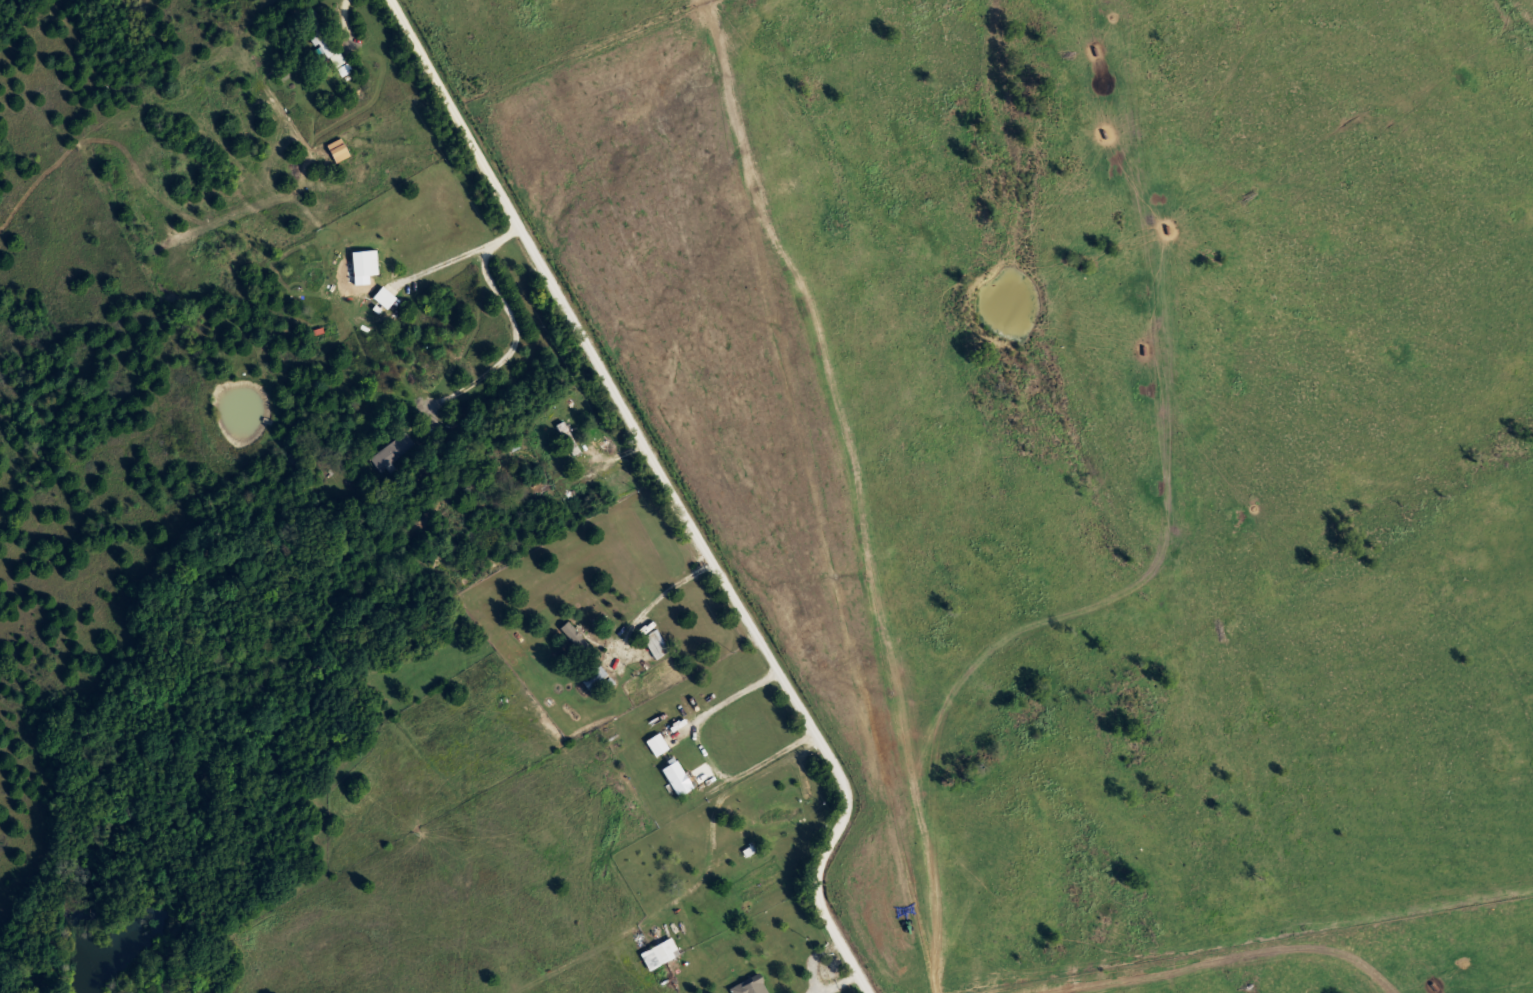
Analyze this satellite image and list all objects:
road: (345, 29)
building: (318, 38)
road: (481, 255)
building: (559, 428)
building: (567, 445)
building: (398, 449)
road: (669, 492)
road: (657, 603)
building: (572, 640)
building: (649, 643)
building: (590, 678)
building: (650, 744)
building: (671, 776)
building: (771, 814)
road: (553, 899)
building: (653, 953)
building: (746, 985)

